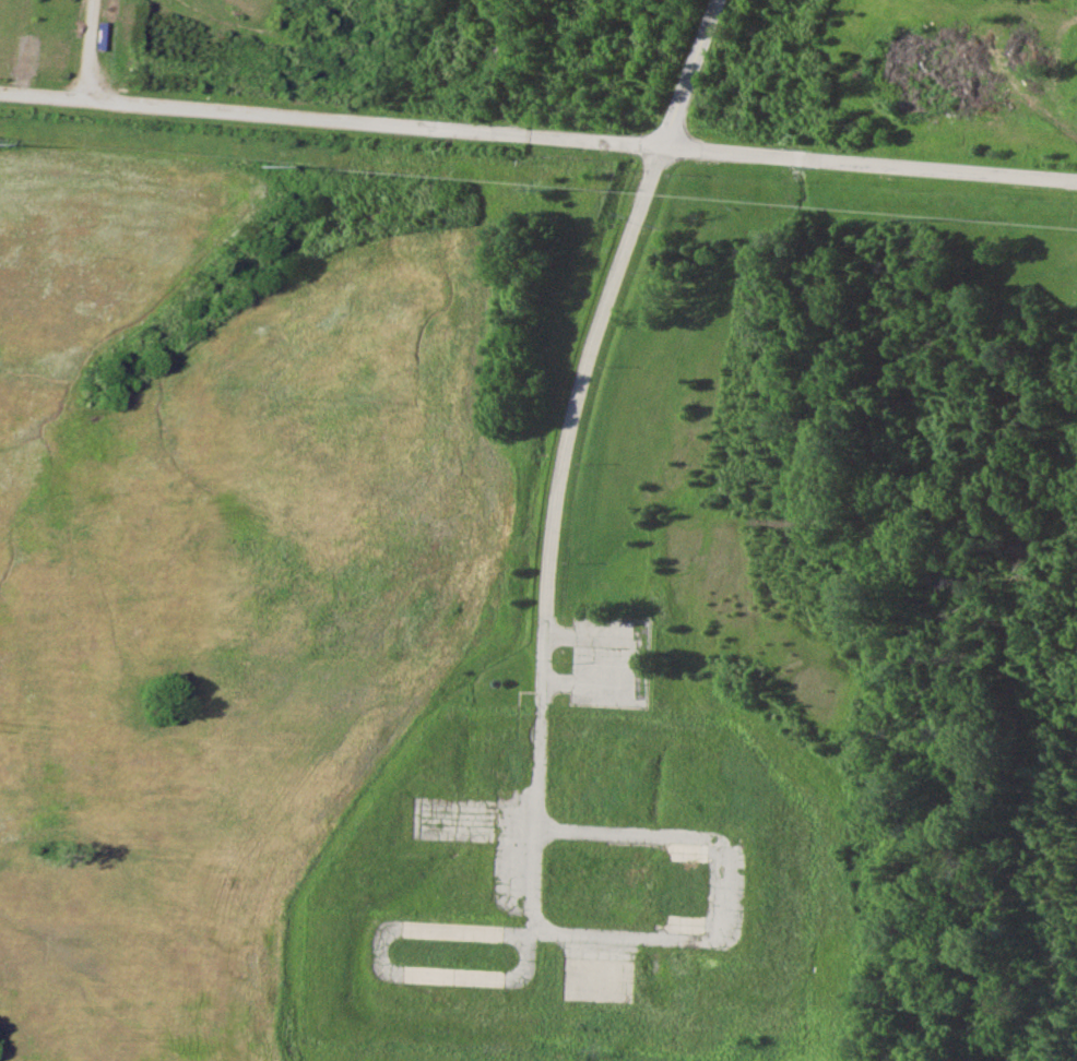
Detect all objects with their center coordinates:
road: (91, 49)
road: (509, 65)
road: (538, 133)
road: (575, 402)
road: (722, 937)

